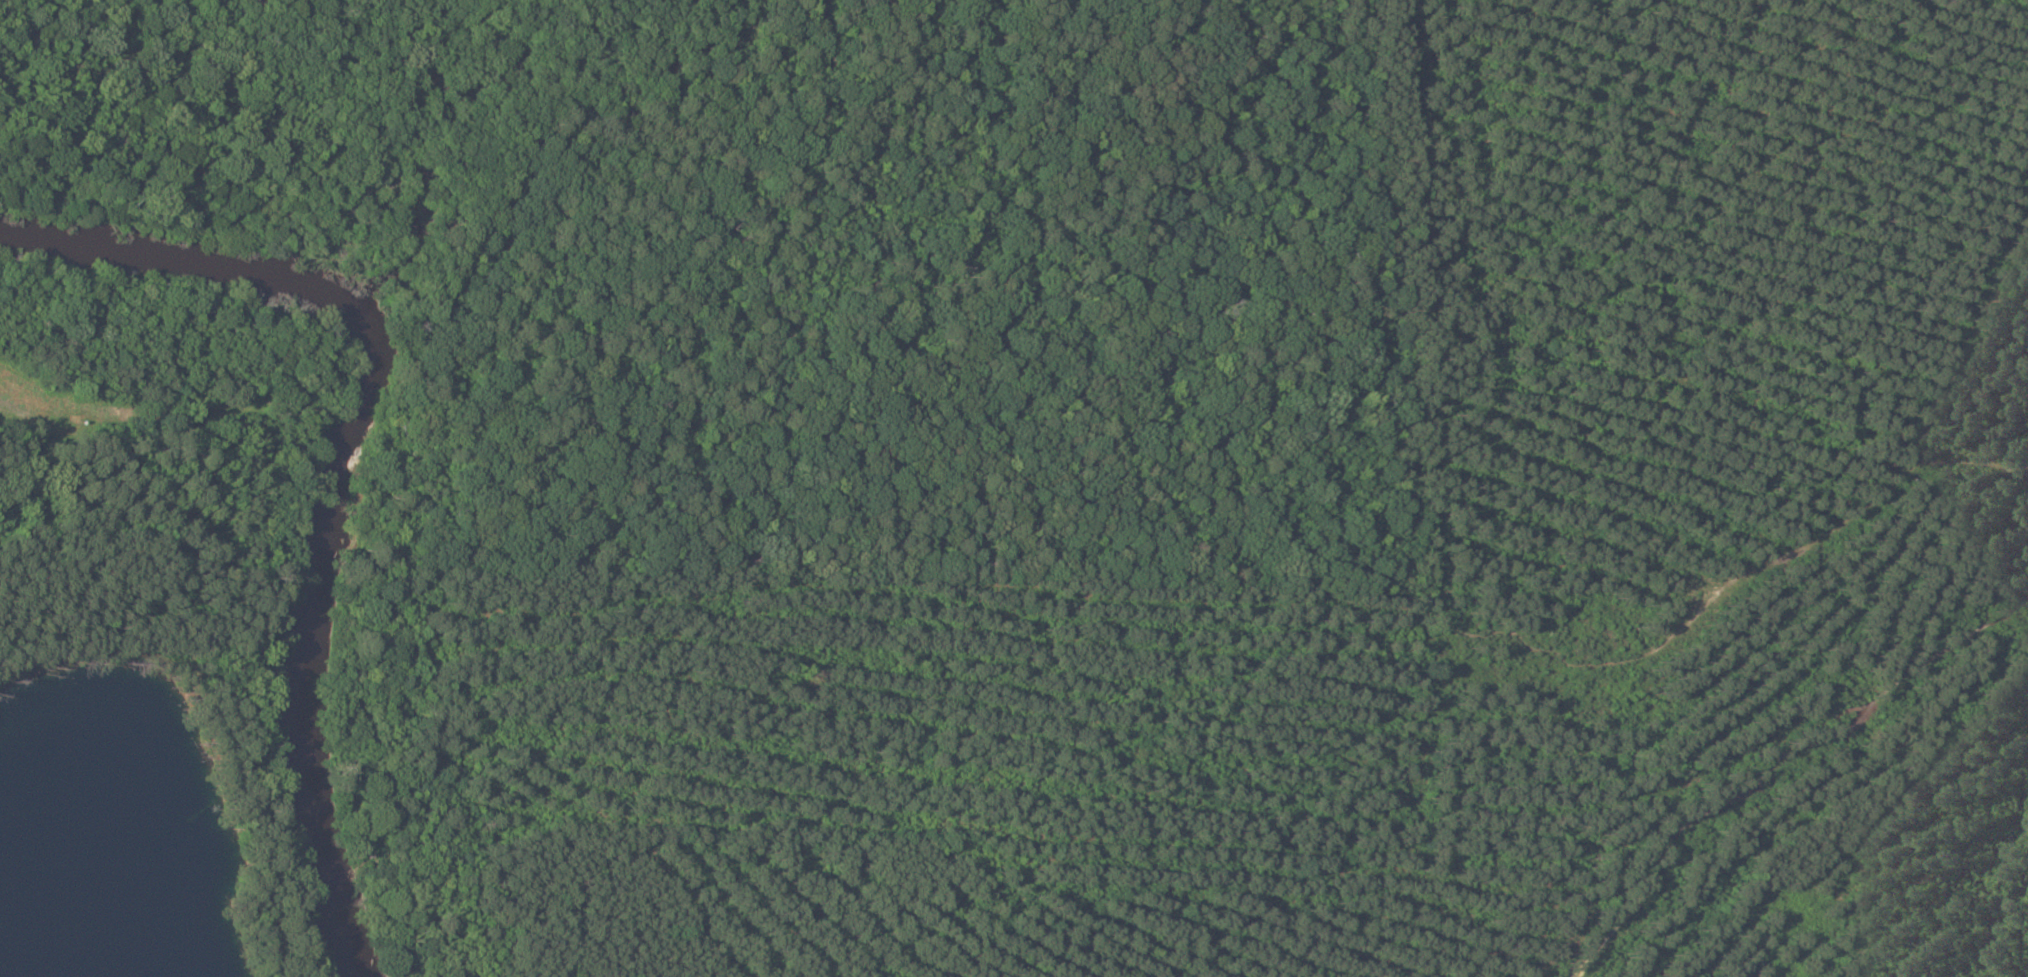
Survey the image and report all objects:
river: (182, 260)
river: (306, 647)
road: (200, 679)

